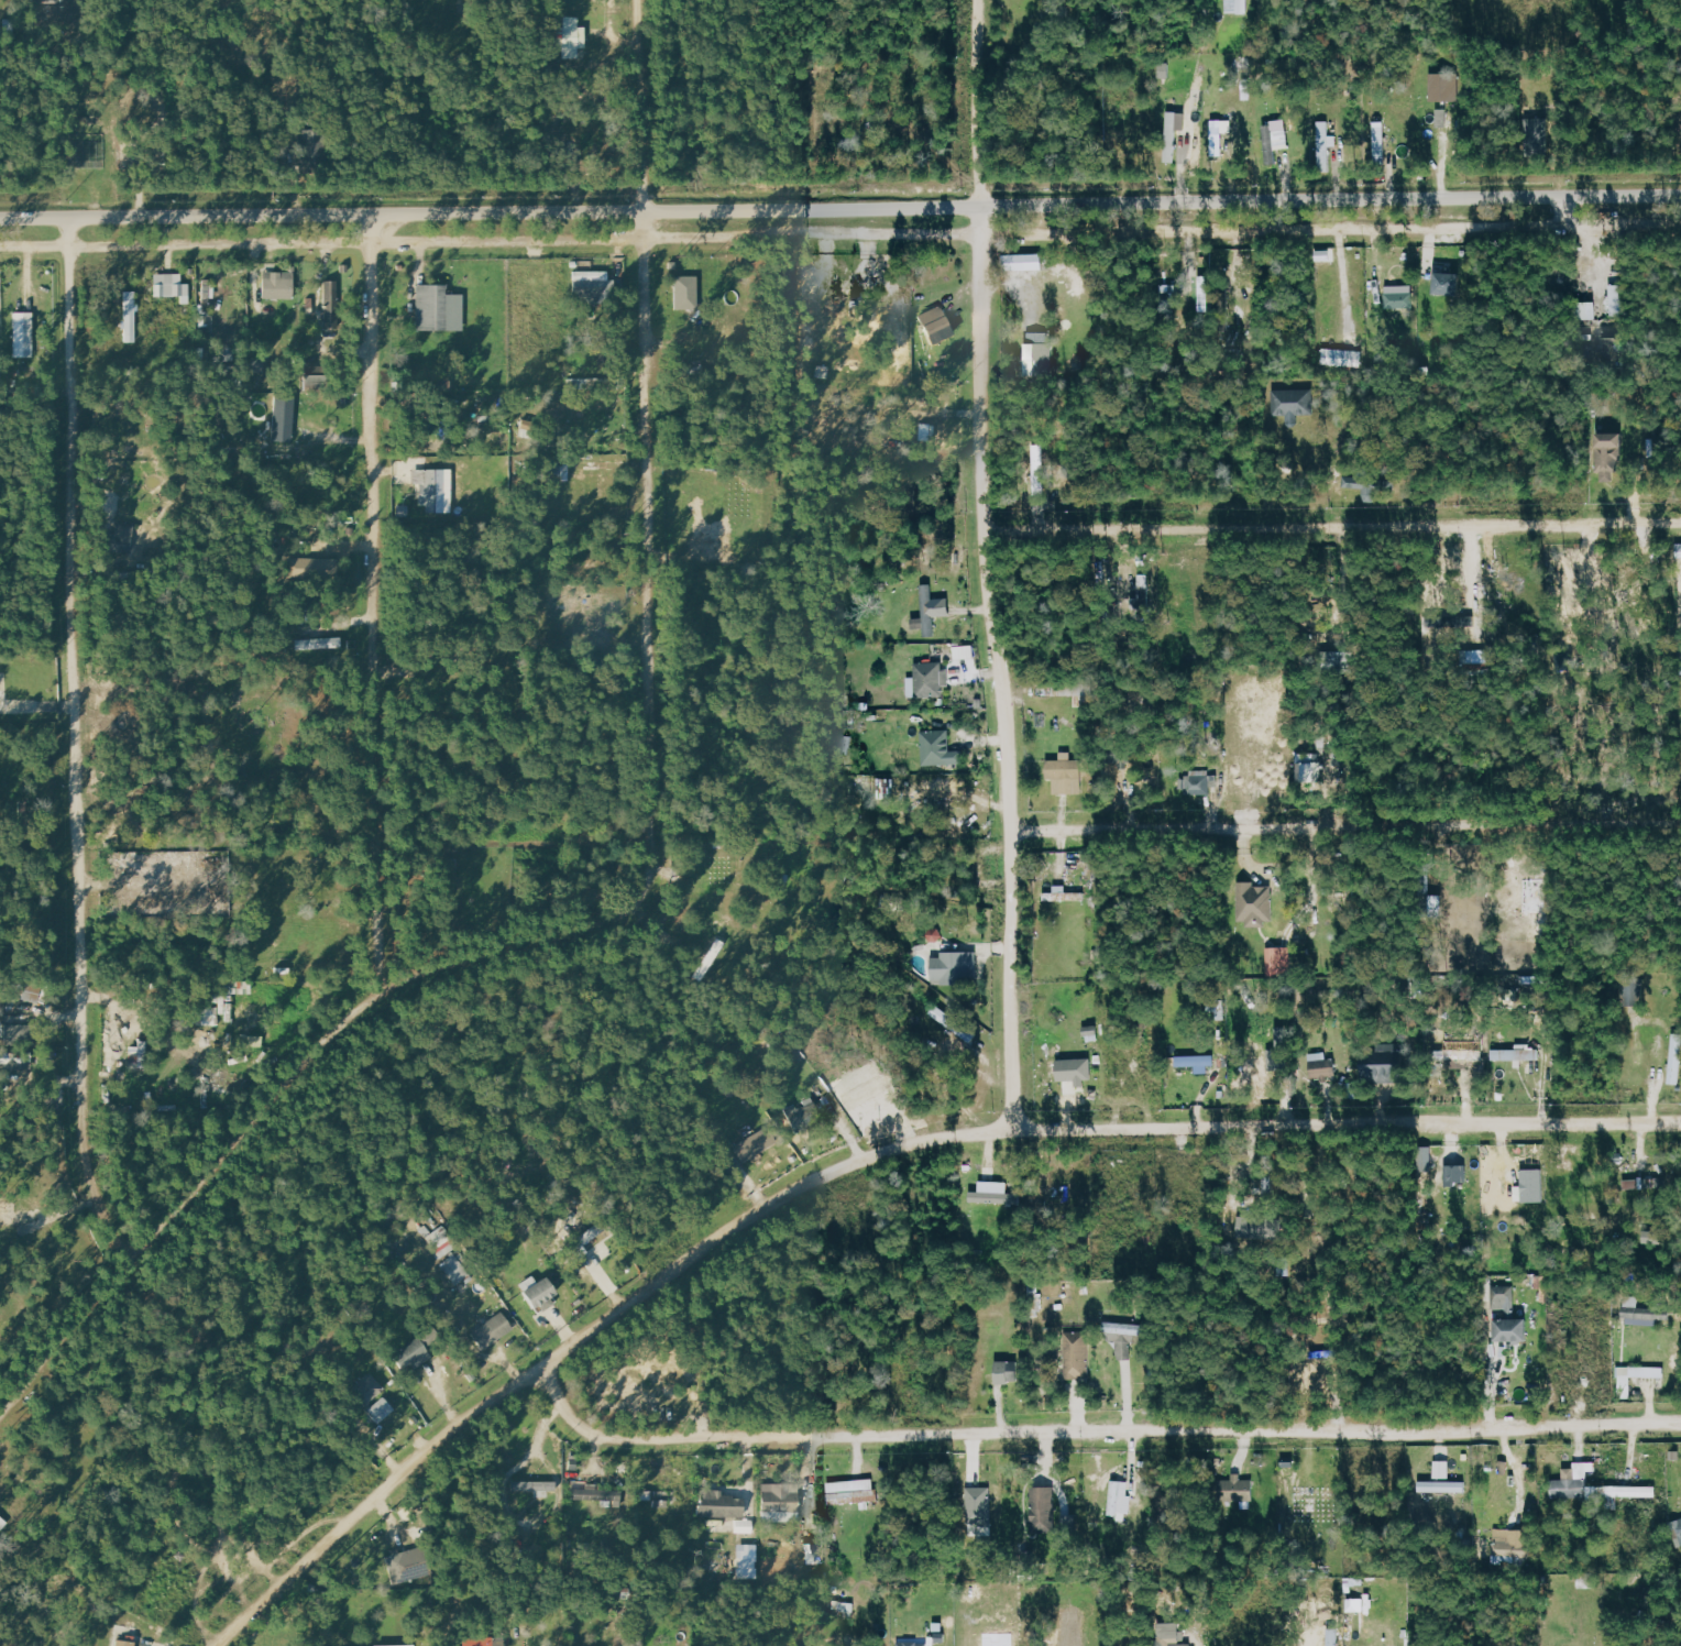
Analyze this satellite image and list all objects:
building: (44, 1)
building: (1238, 7)
building: (572, 37)
building: (1165, 69)
building: (1442, 86)
building: (1447, 113)
building: (1172, 136)
building: (1539, 136)
building: (1380, 140)
building: (1275, 142)
building: (1325, 143)
building: (312, 151)
road: (839, 205)
road: (839, 232)
building: (1326, 255)
building: (1015, 262)
building: (1446, 282)
building: (277, 284)
building: (596, 284)
building: (172, 287)
building: (686, 293)
building: (1400, 296)
building: (1617, 300)
building: (329, 306)
building: (429, 306)
building: (130, 317)
building: (935, 321)
building: (24, 334)
building: (227, 352)
building: (1040, 355)
building: (1343, 358)
building: (199, 361)
building: (314, 376)
building: (444, 385)
building: (1292, 399)
building: (285, 420)
building: (1606, 452)
building: (1039, 469)
building: (1366, 484)
building: (429, 490)
road: (1332, 530)
building: (290, 536)
building: (121, 539)
road: (987, 563)
building: (309, 568)
building: (931, 611)
road: (375, 619)
building: (1462, 622)
building: (316, 644)
building: (964, 652)
building: (930, 677)
building: (1078, 693)
building: (934, 746)
building: (1120, 751)
road: (78, 756)
building: (1063, 768)
building: (1336, 768)
building: (1310, 772)
building: (1197, 782)
road: (1345, 823)
road: (650, 871)
building: (1064, 895)
building: (1255, 904)
building: (1279, 962)
building: (953, 966)
building: (1631, 994)
building: (954, 1022)
building: (14, 1033)
building: (1518, 1053)
building: (136, 1056)
building: (1459, 1056)
building: (15, 1057)
building: (1675, 1058)
building: (1197, 1062)
building: (1322, 1066)
building: (1383, 1066)
building: (1076, 1069)
building: (803, 1117)
road: (1347, 1122)
building: (756, 1144)
building: (1425, 1155)
building: (1455, 1174)
building: (1534, 1185)
building: (992, 1192)
building: (1263, 1229)
building: (1653, 1237)
building: (596, 1258)
building: (455, 1270)
building: (541, 1295)
building: (1503, 1297)
building: (1641, 1313)
building: (1513, 1329)
building: (493, 1331)
road: (585, 1336)
building: (1125, 1337)
building: (414, 1354)
building: (1077, 1354)
building: (1008, 1371)
building: (1636, 1376)
building: (367, 1390)
building: (382, 1411)
road: (1094, 1431)
building: (1442, 1469)
building: (1442, 1486)
building: (1595, 1486)
building: (536, 1488)
building: (1237, 1489)
building: (852, 1491)
building: (598, 1494)
building: (1121, 1500)
building: (781, 1503)
building: (721, 1504)
building: (979, 1505)
building: (1045, 1510)
building: (1675, 1529)
building: (1509, 1550)
building: (406, 1566)
building: (748, 1568)
building: (131, 1637)
building: (1172, 1639)
building: (913, 1643)
building: (406, 1645)

